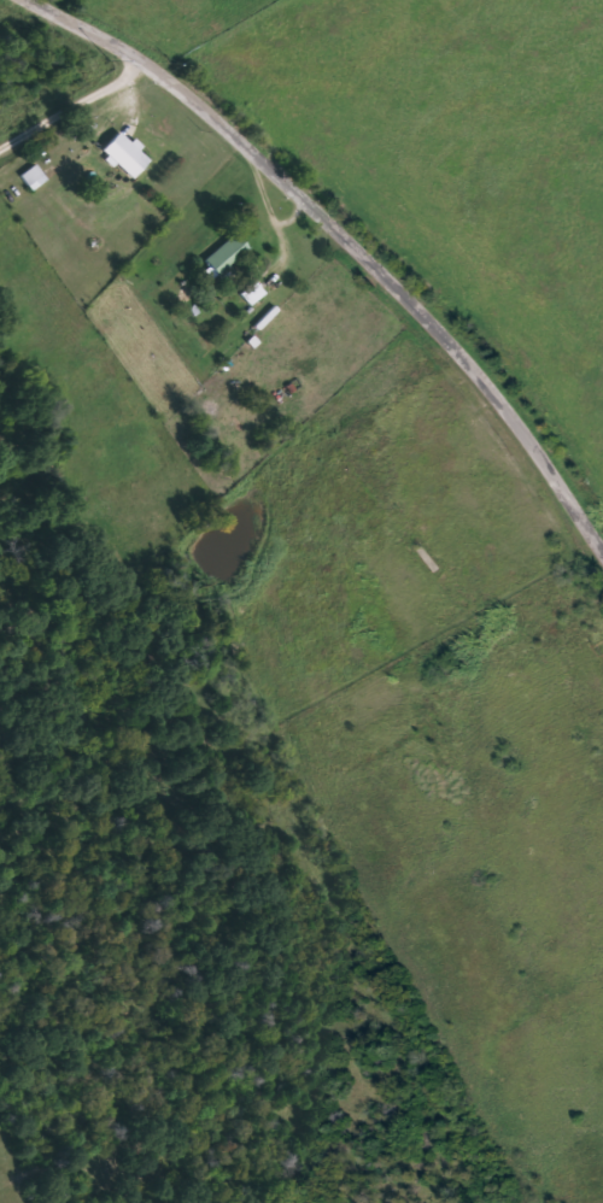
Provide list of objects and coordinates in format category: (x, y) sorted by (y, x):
road: (70, 99)
building: (124, 154)
building: (33, 176)
road: (349, 237)
building: (226, 258)
building: (252, 293)

